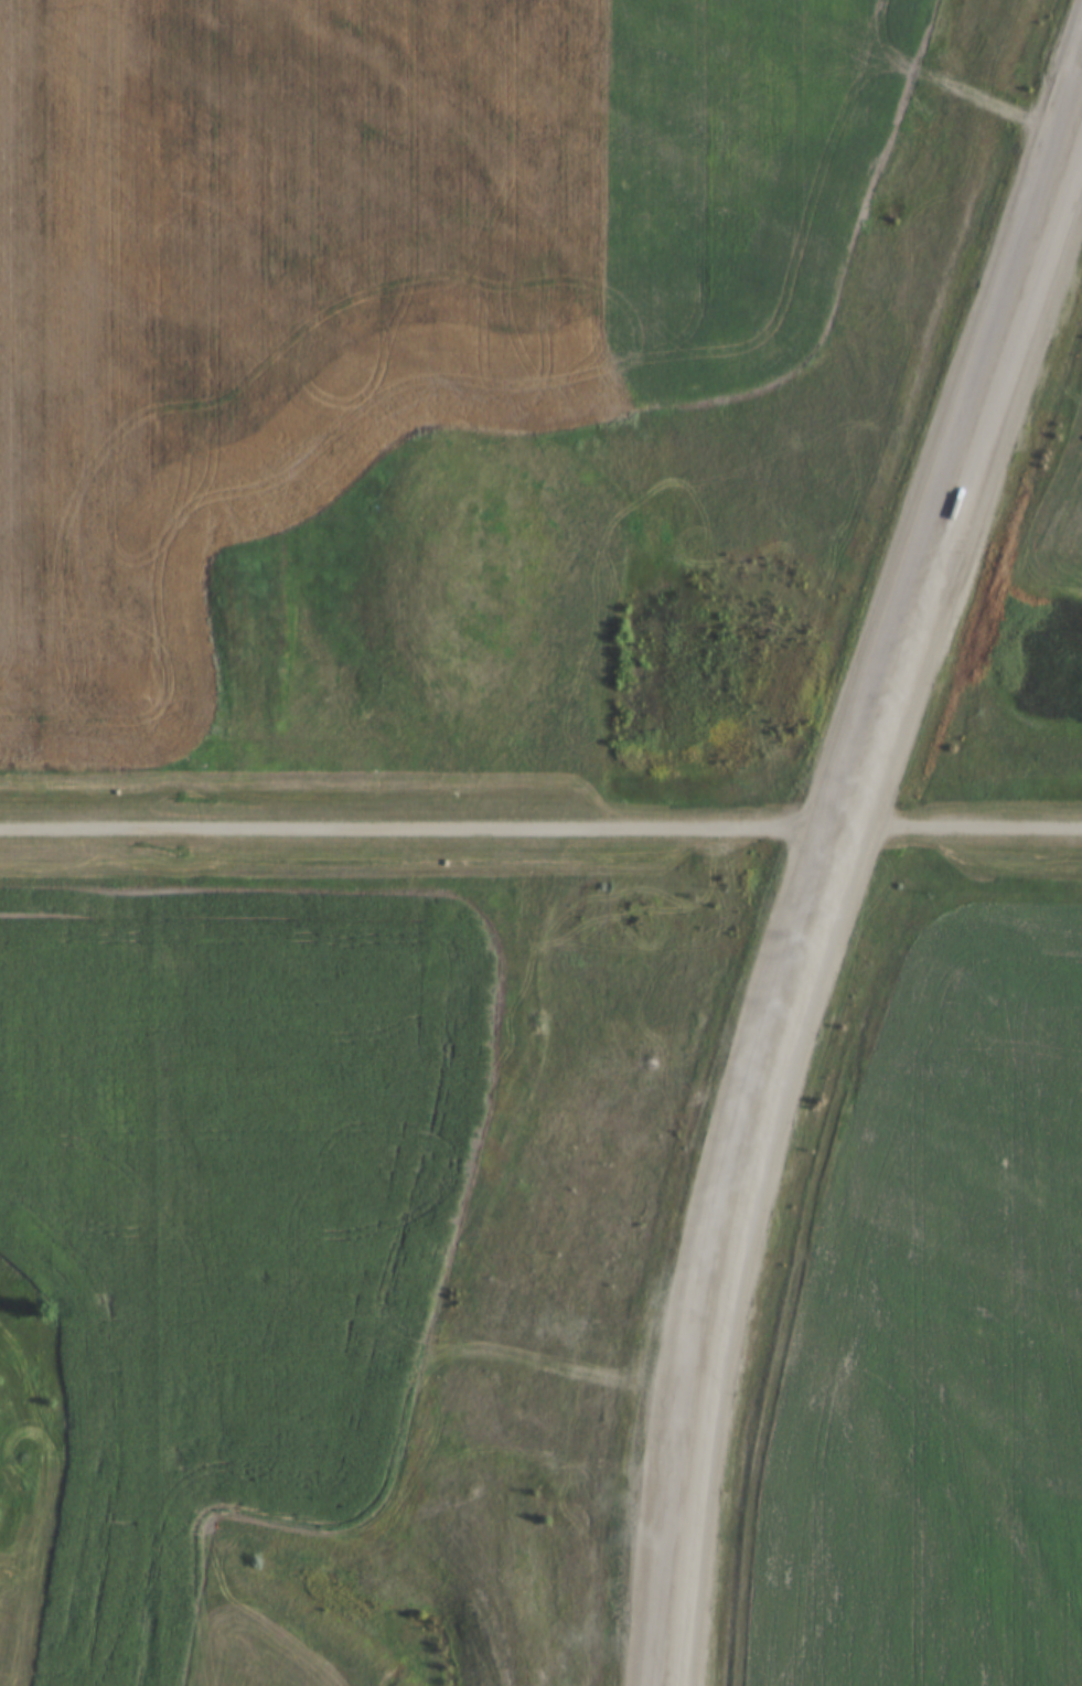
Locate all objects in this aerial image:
road: (750, 227)
road: (957, 459)
road: (540, 824)
road: (746, 1252)

